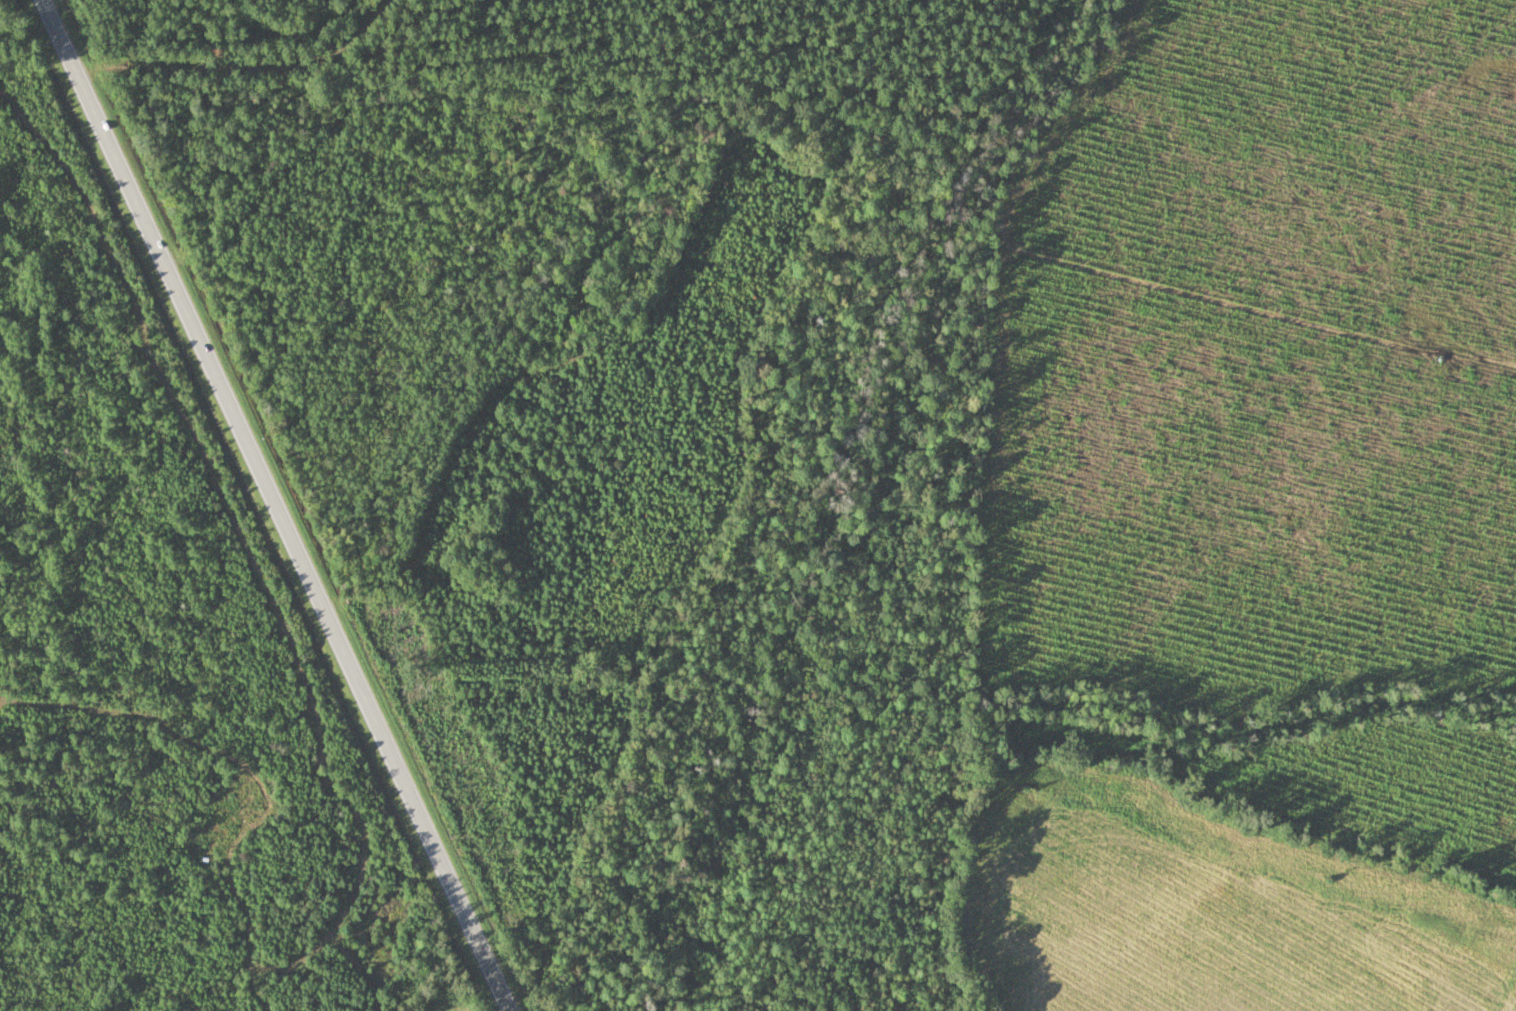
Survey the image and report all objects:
road: (278, 506)

